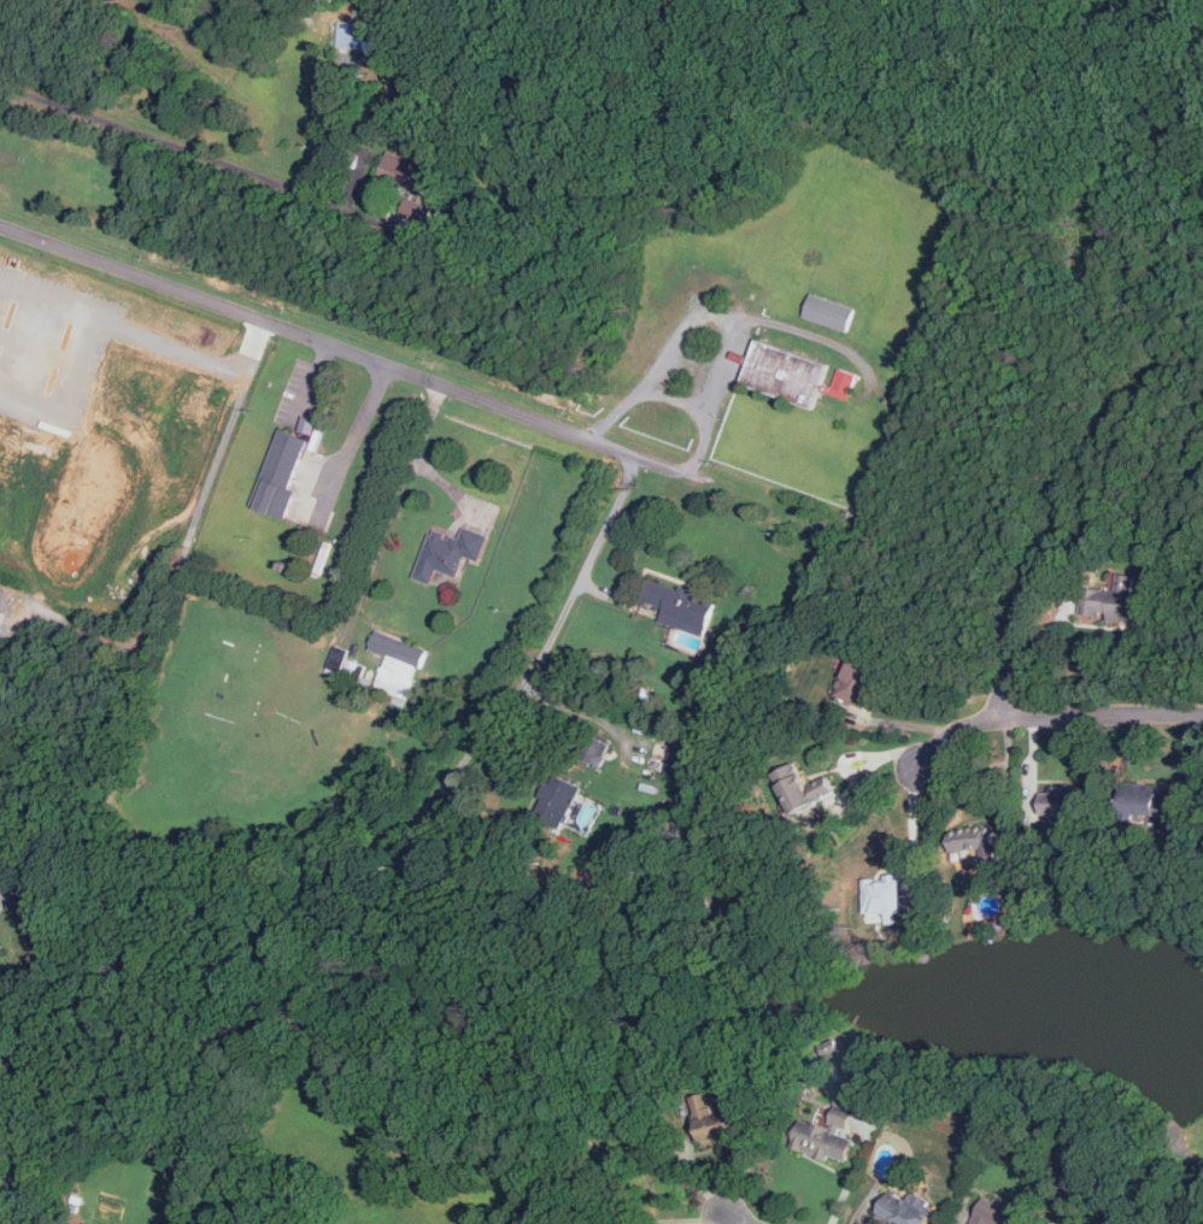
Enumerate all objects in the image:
road: (134, 131)
building: (403, 169)
building: (418, 211)
building: (829, 313)
road: (125, 326)
road: (735, 333)
building: (784, 373)
road: (313, 377)
building: (843, 384)
road: (675, 399)
road: (504, 408)
road: (230, 425)
road: (353, 440)
road: (419, 458)
building: (280, 475)
building: (448, 553)
building: (1113, 601)
building: (679, 607)
building: (398, 648)
building: (339, 660)
building: (857, 682)
road: (1004, 688)
road: (1099, 714)
road: (951, 732)
building: (593, 752)
building: (680, 763)
road: (867, 772)
road: (1010, 782)
building: (799, 788)
building: (553, 801)
building: (1140, 802)
building: (1063, 805)
road: (915, 825)
building: (975, 843)
building: (882, 894)
building: (710, 1122)
building: (825, 1136)
road: (851, 1178)
building: (903, 1208)
building: (996, 1212)
building: (5, 1214)
road: (737, 1220)

